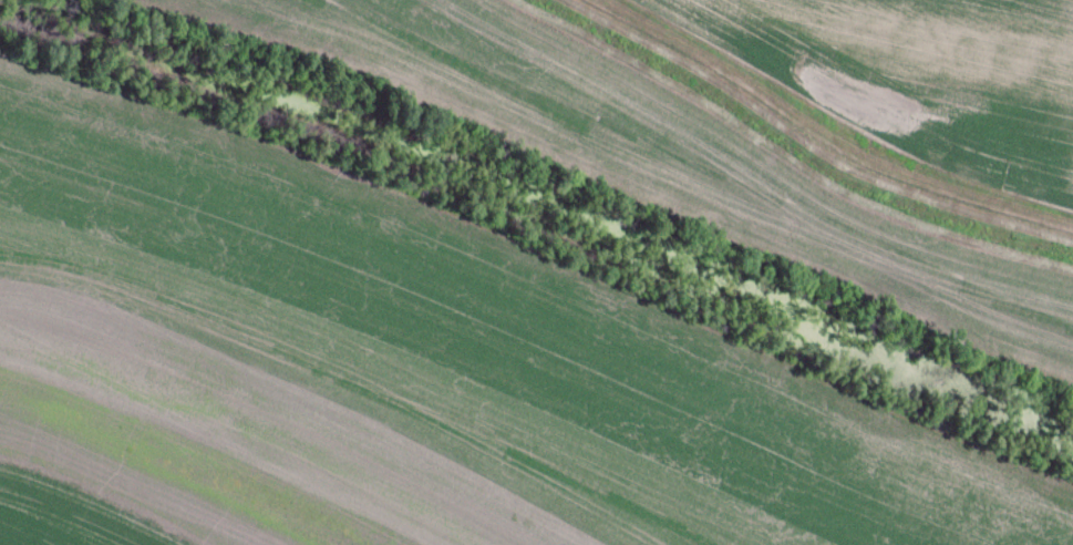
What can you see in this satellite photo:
road: (811, 143)

